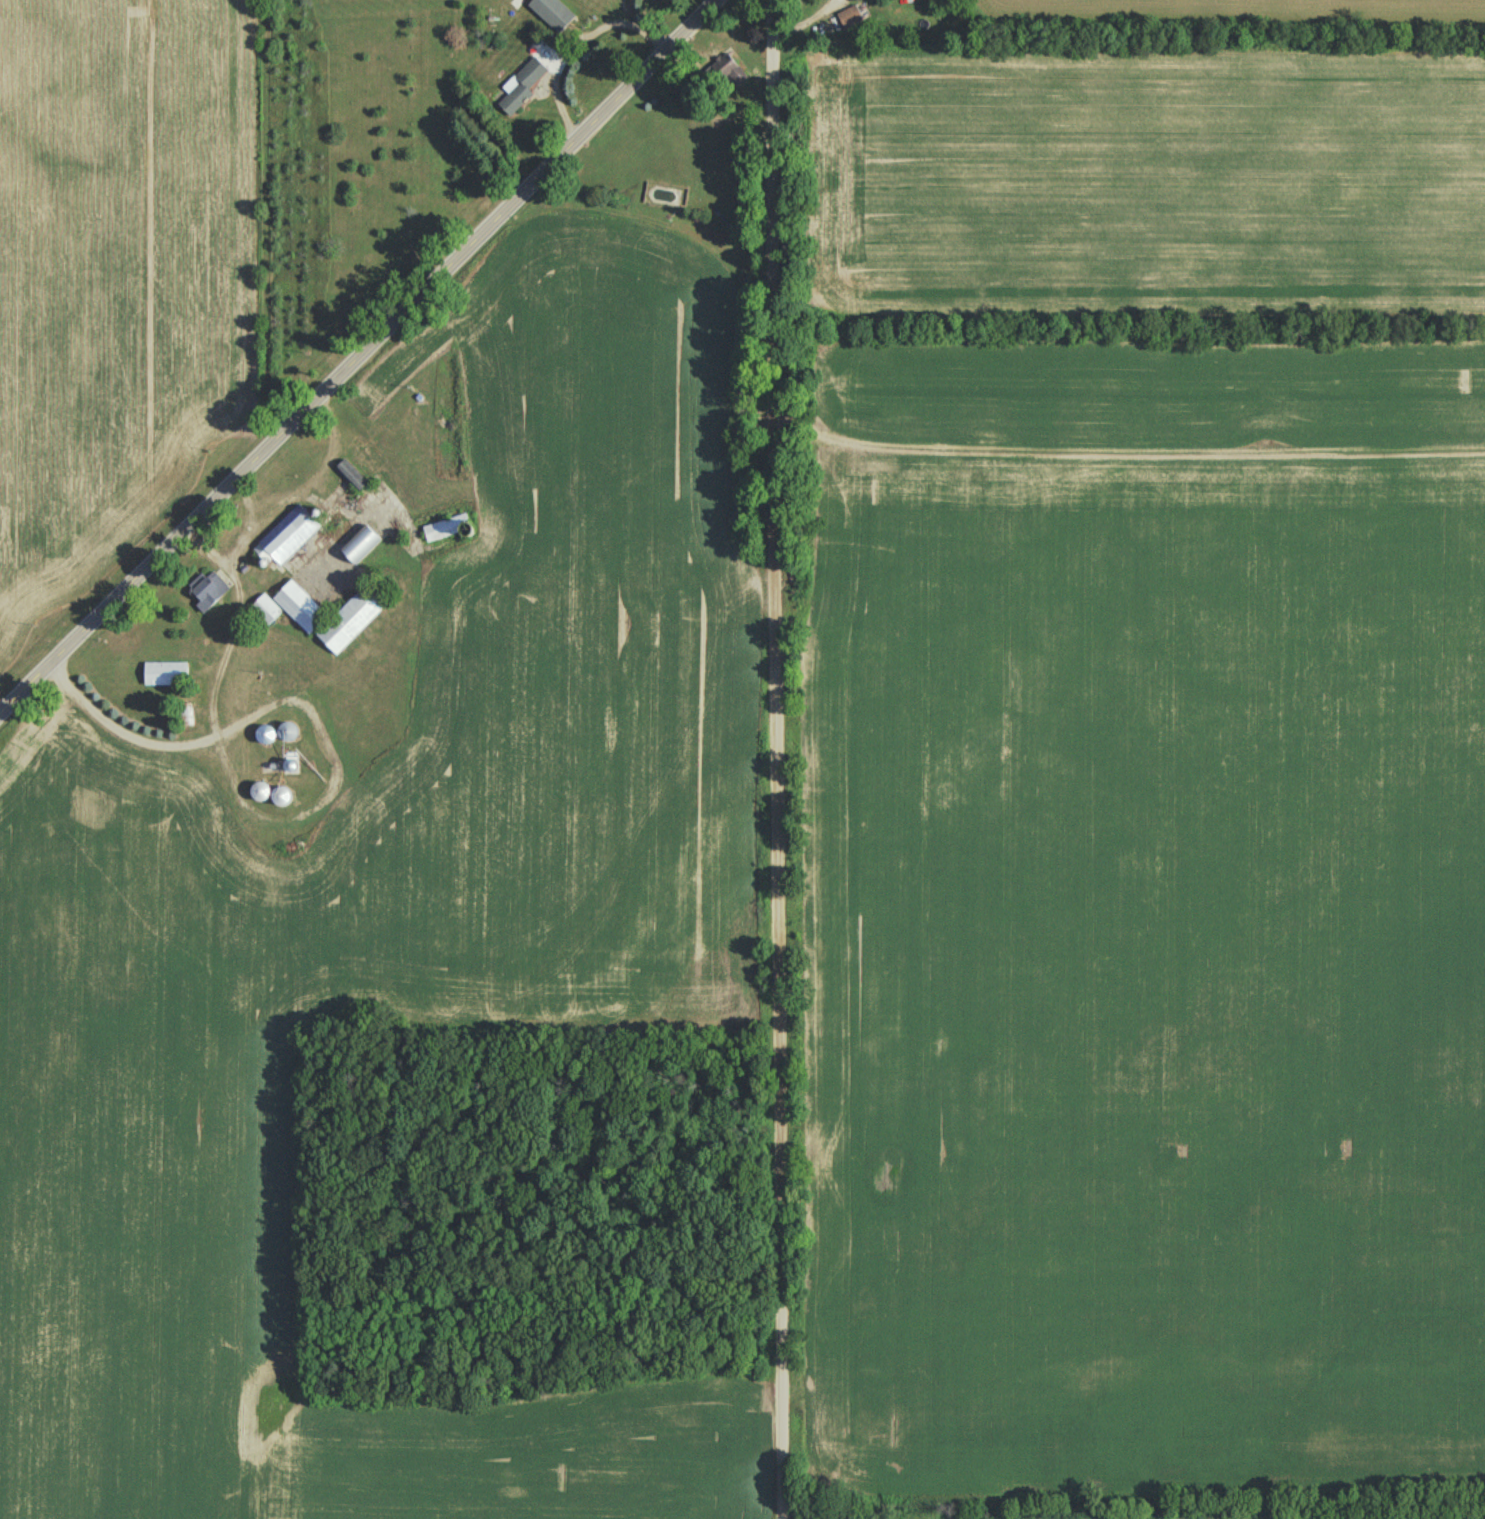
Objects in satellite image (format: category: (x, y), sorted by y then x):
building: (552, 15)
building: (850, 20)
building: (729, 74)
building: (522, 87)
road: (357, 354)
building: (352, 477)
building: (443, 530)
building: (287, 537)
building: (361, 545)
building: (209, 591)
building: (300, 608)
building: (267, 609)
building: (351, 621)
building: (165, 675)
building: (187, 716)
building: (289, 734)
building: (265, 736)
road: (773, 759)
building: (260, 793)
building: (281, 799)

